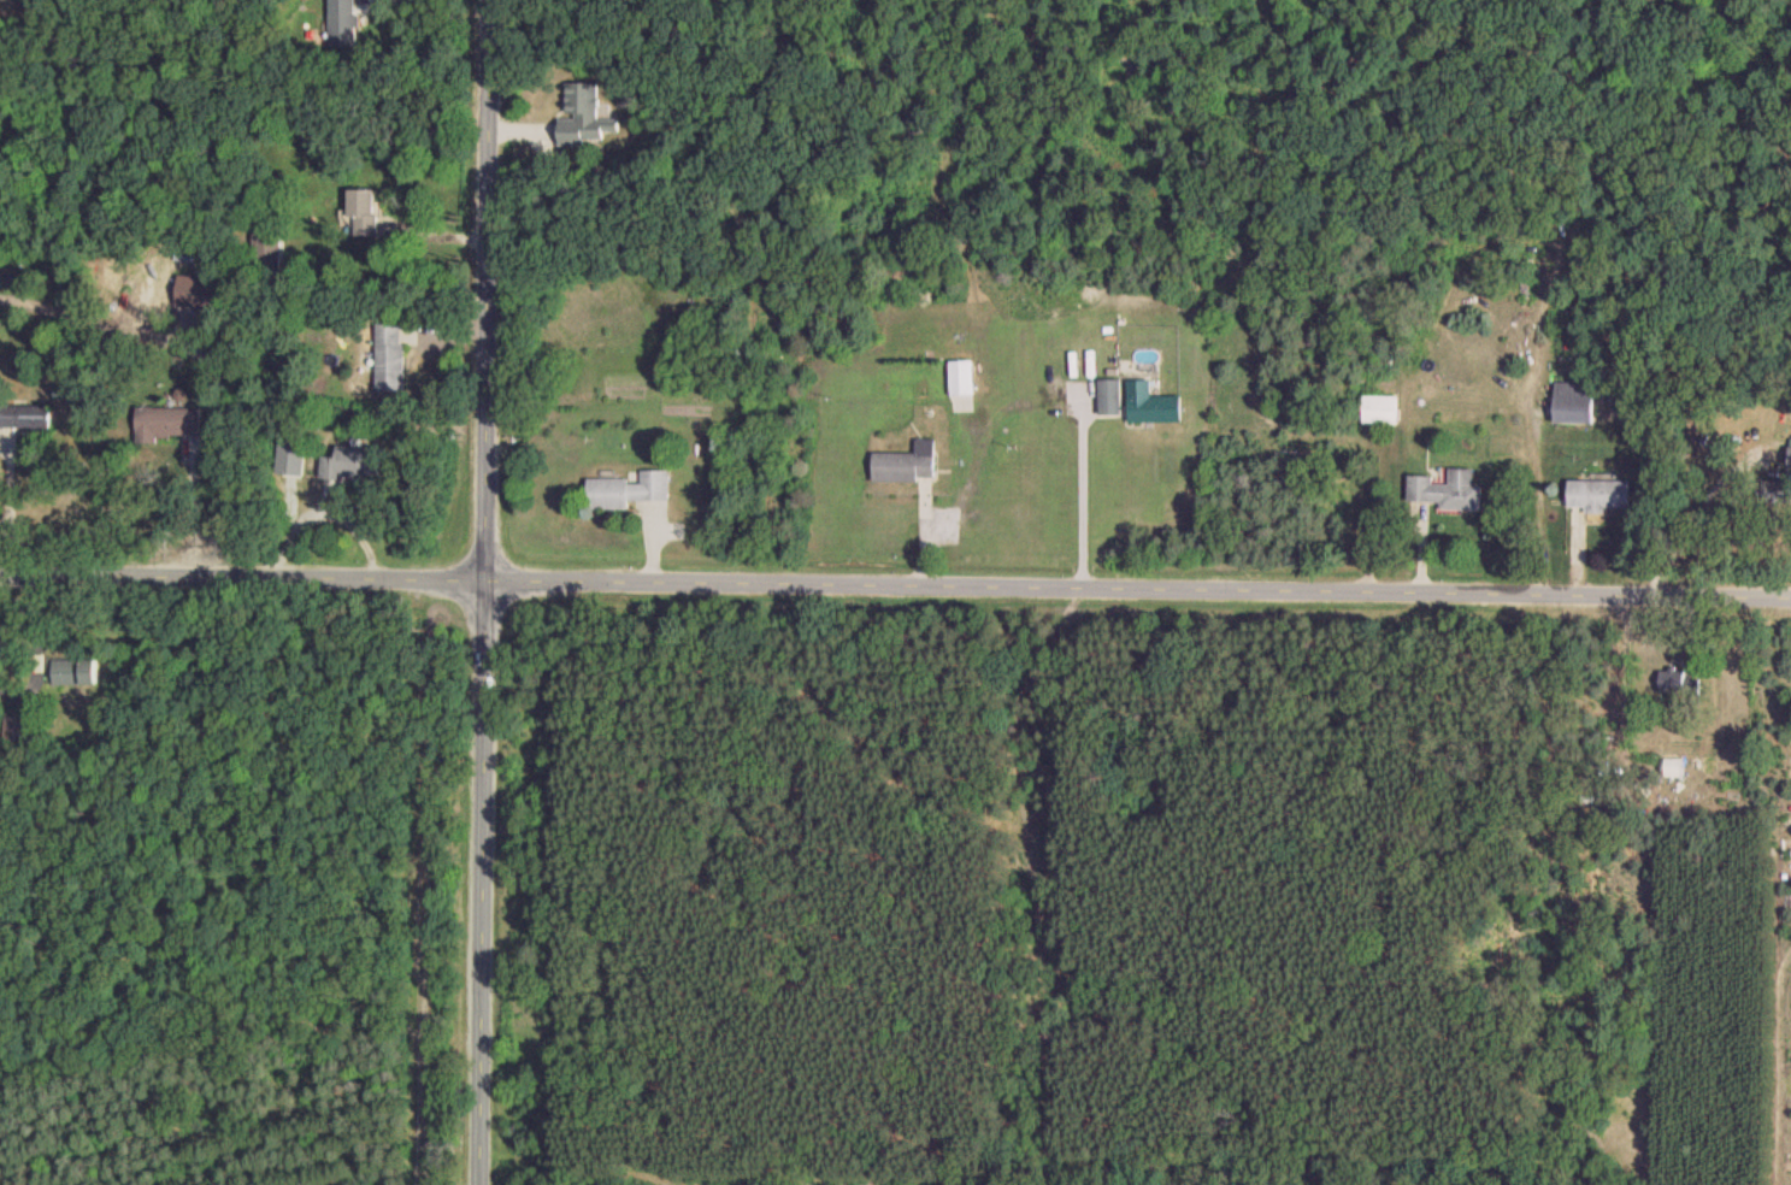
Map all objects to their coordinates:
building: (342, 24)
building: (583, 117)
building: (363, 213)
building: (199, 293)
building: (389, 356)
building: (960, 378)
building: (1109, 397)
building: (1574, 403)
building: (1150, 406)
building: (1379, 411)
building: (25, 415)
building: (167, 421)
building: (1790, 460)
building: (350, 462)
building: (906, 464)
road: (1539, 484)
building: (628, 489)
building: (1445, 491)
building: (1775, 493)
building: (1598, 495)
road: (11, 505)
road: (1083, 505)
road: (1704, 508)
road: (198, 511)
road: (895, 583)
road: (484, 592)
building: (73, 672)
building: (1679, 683)

